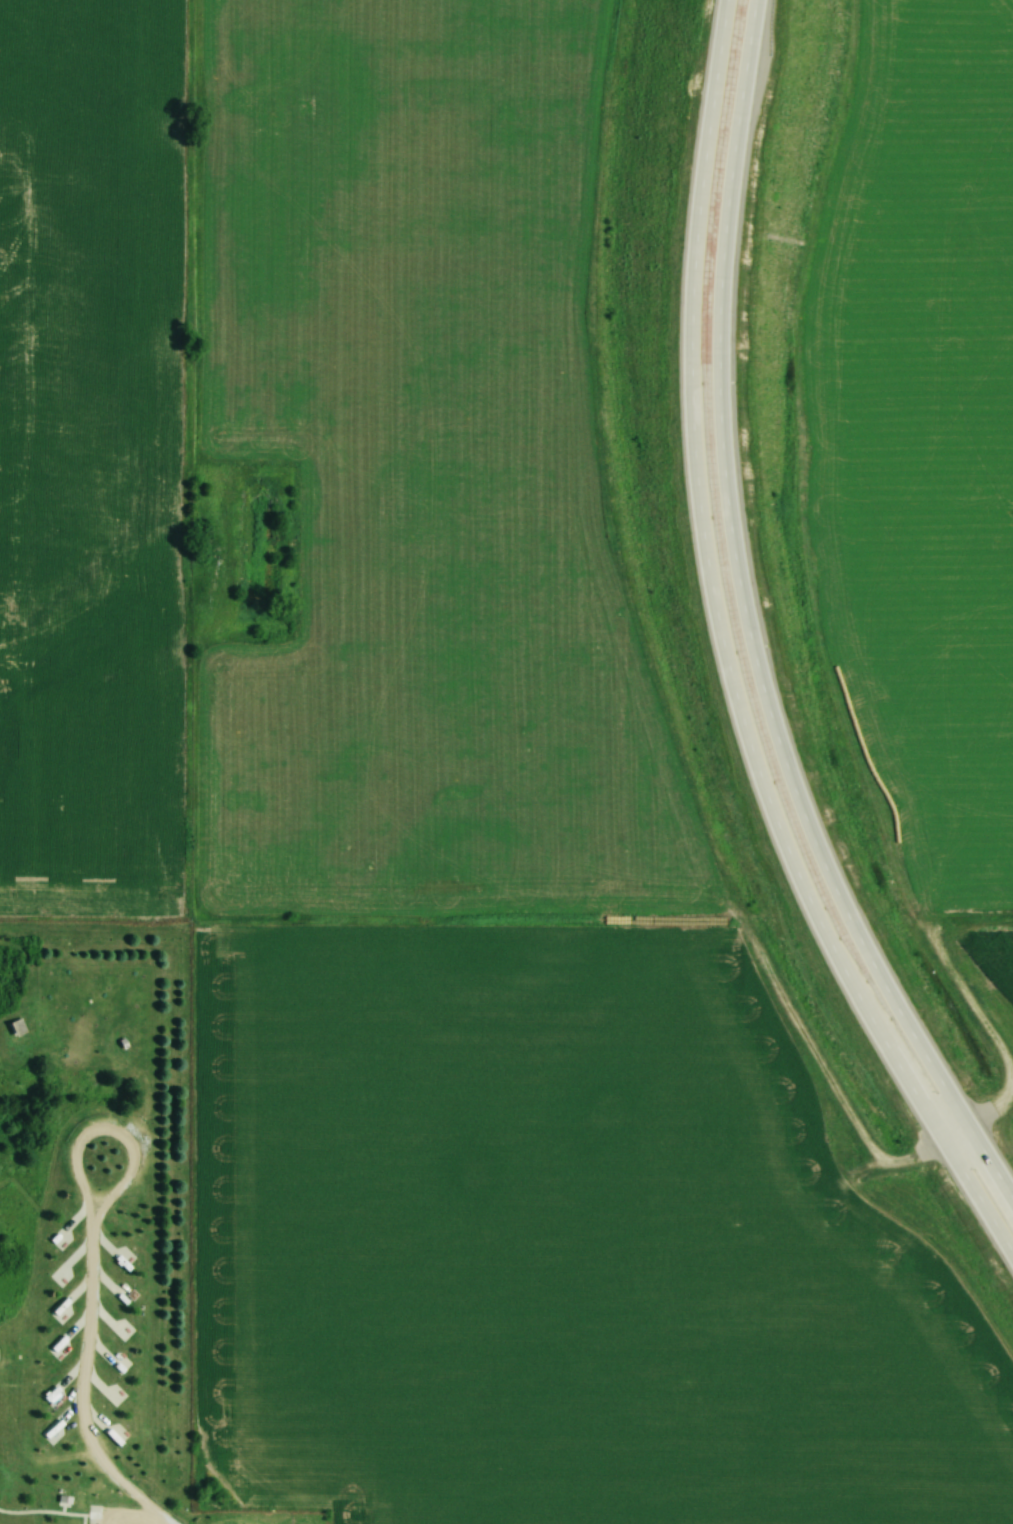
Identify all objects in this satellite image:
crop: (922, 430)
road: (753, 620)
road: (732, 652)
crop: (995, 953)
building: (23, 1015)
road: (2, 1059)

